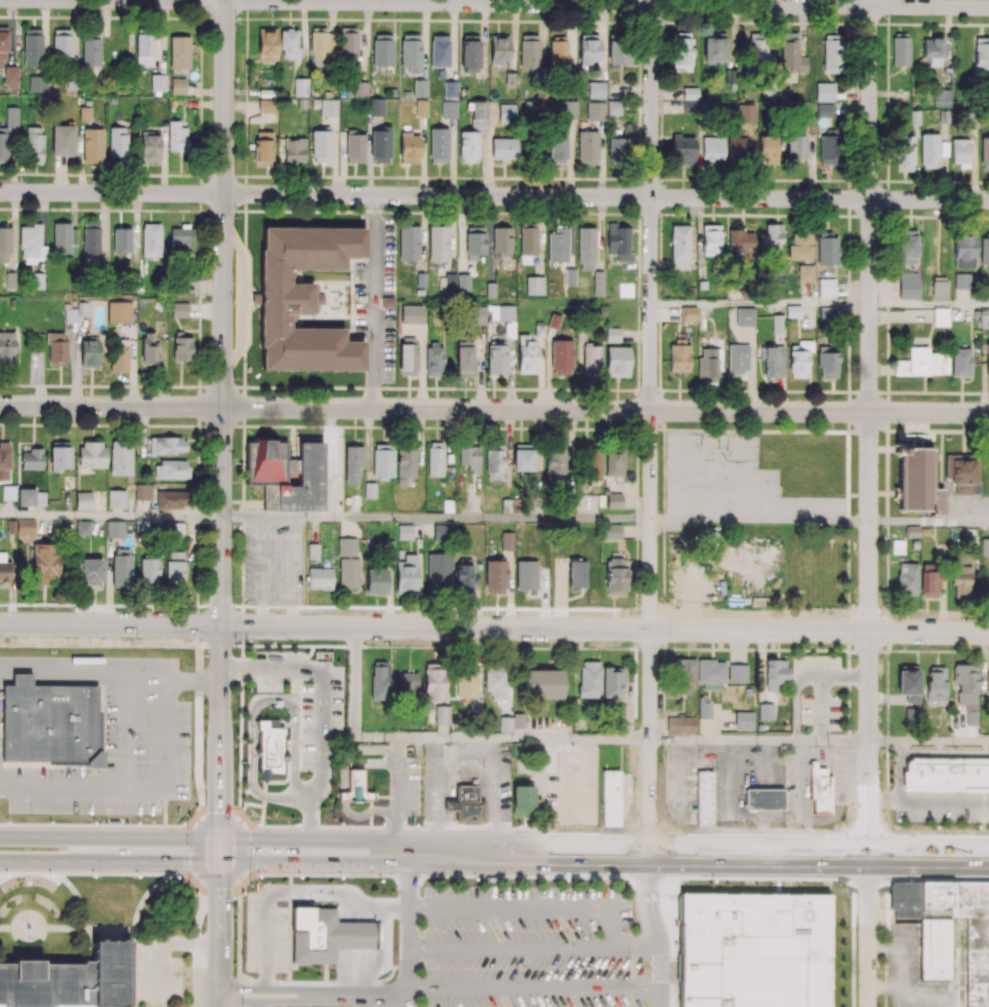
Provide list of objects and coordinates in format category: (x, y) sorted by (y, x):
road: (148, 0)
road: (607, 4)
road: (112, 193)
road: (606, 196)
road: (375, 225)
building: (805, 272)
building: (569, 276)
building: (420, 279)
building: (463, 282)
building: (598, 283)
building: (533, 285)
building: (825, 287)
building: (489, 289)
road: (242, 299)
building: (387, 302)
road: (760, 304)
road: (929, 304)
building: (82, 308)
building: (179, 309)
building: (792, 311)
building: (118, 312)
building: (504, 313)
building: (689, 313)
building: (410, 314)
building: (744, 316)
building: (777, 323)
road: (373, 331)
building: (611, 334)
building: (737, 358)
building: (36, 359)
building: (616, 361)
road: (111, 406)
road: (605, 410)
road: (222, 425)
road: (651, 426)
road: (870, 427)
building: (32, 459)
building: (352, 462)
building: (368, 490)
building: (7, 491)
building: (116, 498)
building: (83, 500)
building: (613, 500)
building: (447, 505)
road: (111, 515)
road: (436, 518)
road: (760, 520)
road: (929, 521)
building: (83, 527)
building: (403, 531)
building: (611, 531)
building: (505, 539)
building: (346, 546)
building: (312, 551)
parking lot: (274, 561)
building: (88, 570)
building: (525, 575)
building: (319, 578)
road: (110, 625)
road: (604, 629)
street lamp: (669, 644)
street lamp: (921, 647)
building: (23, 680)
road: (186, 680)
road: (354, 703)
road: (323, 718)
building: (52, 725)
road: (153, 729)
road: (522, 738)
road: (759, 740)
road: (929, 742)
building: (269, 748)
building: (521, 752)
building: (255, 753)
road: (939, 754)
road: (898, 755)
building: (285, 756)
building: (947, 773)
road: (899, 784)
building: (357, 787)
building: (939, 788)
building: (820, 794)
building: (343, 797)
building: (610, 799)
building: (704, 799)
road: (884, 799)
road: (943, 799)
building: (523, 800)
building: (762, 800)
building: (470, 804)
building: (453, 806)
street lamp: (234, 815)
street lamp: (62, 821)
street lamp: (185, 821)
street lamp: (277, 824)
street lamp: (410, 824)
street lamp: (517, 825)
street lamp: (740, 826)
street lamp: (626, 827)
street lamp: (843, 827)
street lamp: (964, 828)
road: (52, 839)
road: (161, 850)
traffic signals: (219, 850)
road: (269, 850)
road: (654, 854)
road: (52, 861)
street lamp: (118, 877)
street lamp: (177, 878)
street lamp: (244, 879)
street lamp: (359, 879)
street lamp: (466, 879)
street lamp: (577, 880)
street lamp: (903, 880)
street lamp: (686, 882)
street lamp: (798, 882)
road: (649, 889)
road: (219, 897)
building: (934, 901)
building: (904, 902)
road: (529, 910)
building: (972, 913)
road: (407, 924)
road: (868, 931)
building: (312, 935)
building: (354, 935)
building: (377, 935)
road: (161, 947)
parking lot: (527, 947)
road: (636, 948)
building: (933, 949)
building: (681, 950)
road: (510, 951)
building: (756, 951)
road: (660, 965)
building: (976, 967)
parking lot: (159, 971)
road: (219, 975)
street lamp: (282, 976)
building: (70, 980)
road: (533, 990)
road: (272, 992)
building: (976, 995)
road: (366, 998)
road: (272, 1002)
road: (407, 1002)

